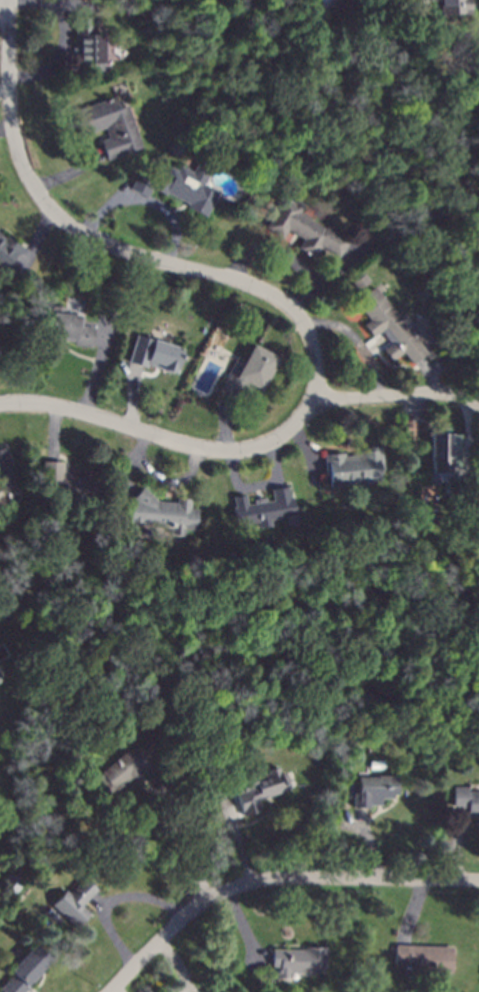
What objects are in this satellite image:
road: (49, 0)
building: (454, 6)
road: (4, 14)
building: (89, 44)
road: (61, 54)
building: (475, 55)
road: (4, 92)
building: (109, 125)
road: (6, 128)
road: (69, 173)
building: (179, 186)
road: (105, 208)
road: (165, 210)
building: (305, 229)
road: (34, 244)
road: (110, 246)
building: (7, 250)
road: (274, 252)
road: (327, 277)
building: (360, 281)
building: (390, 326)
building: (66, 327)
road: (357, 341)
building: (155, 353)
road: (97, 370)
building: (248, 372)
road: (429, 375)
road: (131, 396)
road: (224, 421)
road: (53, 431)
road: (465, 442)
road: (246, 448)
building: (442, 450)
road: (307, 451)
road: (127, 461)
road: (273, 464)
road: (317, 464)
building: (352, 467)
building: (4, 478)
road: (172, 480)
building: (67, 485)
road: (240, 486)
building: (455, 490)
building: (263, 508)
building: (162, 512)
building: (19, 716)
building: (318, 751)
building: (136, 763)
building: (259, 789)
building: (374, 790)
building: (347, 797)
building: (465, 799)
road: (181, 807)
road: (237, 839)
road: (369, 842)
road: (458, 844)
road: (273, 876)
building: (11, 884)
road: (110, 899)
building: (74, 902)
road: (412, 910)
road: (243, 929)
building: (424, 957)
building: (298, 960)
road: (177, 964)
building: (25, 970)
road: (115, 990)

